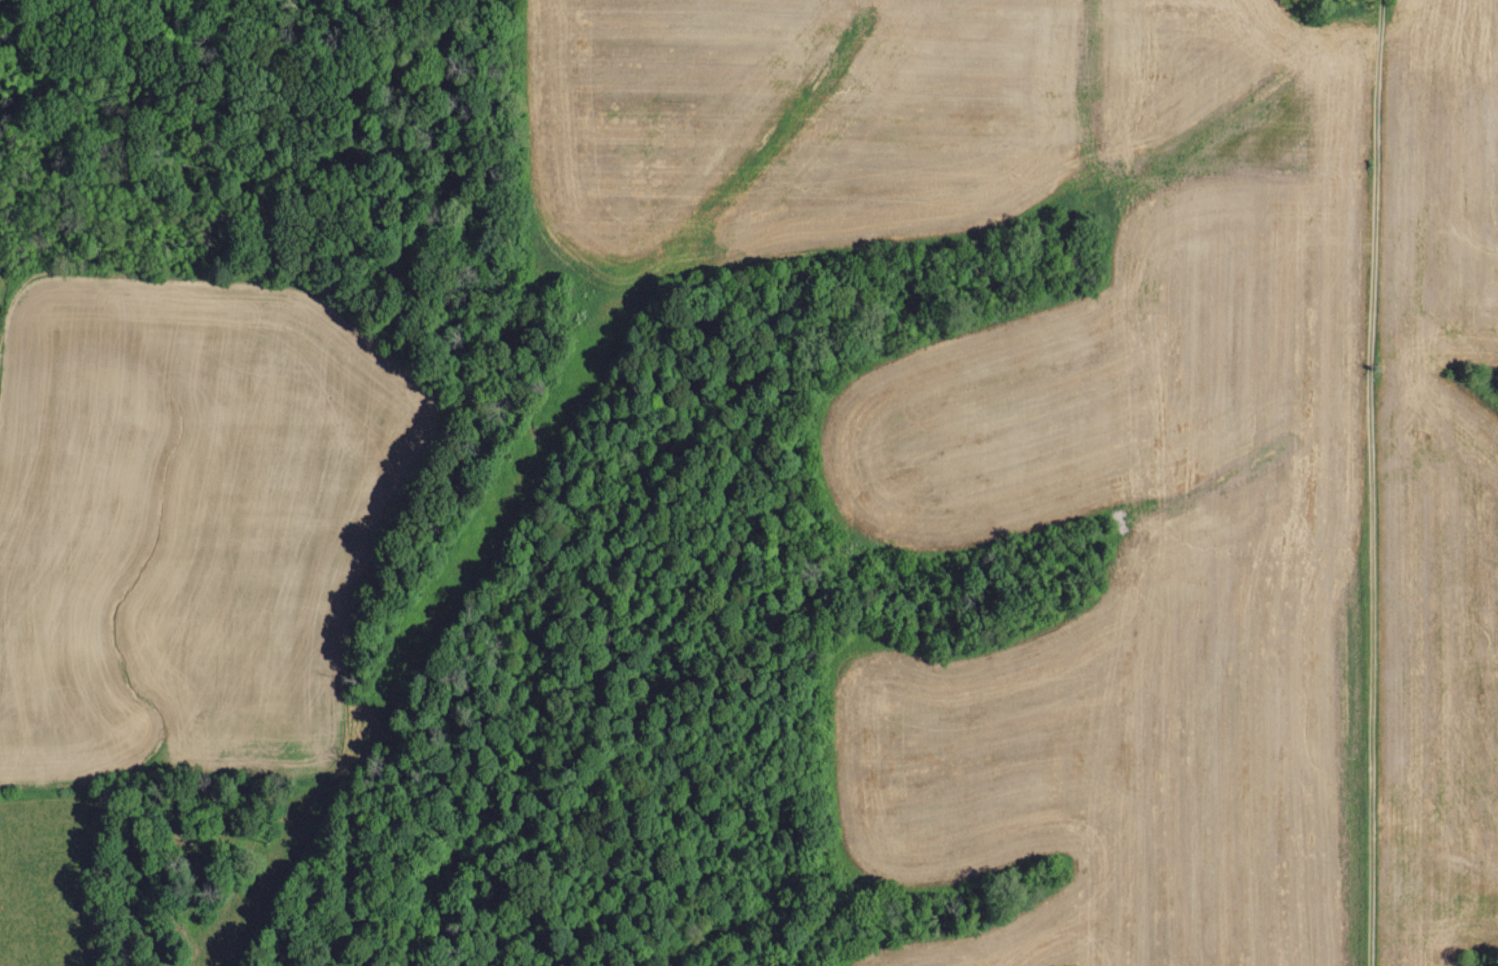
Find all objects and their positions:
road: (1372, 482)

